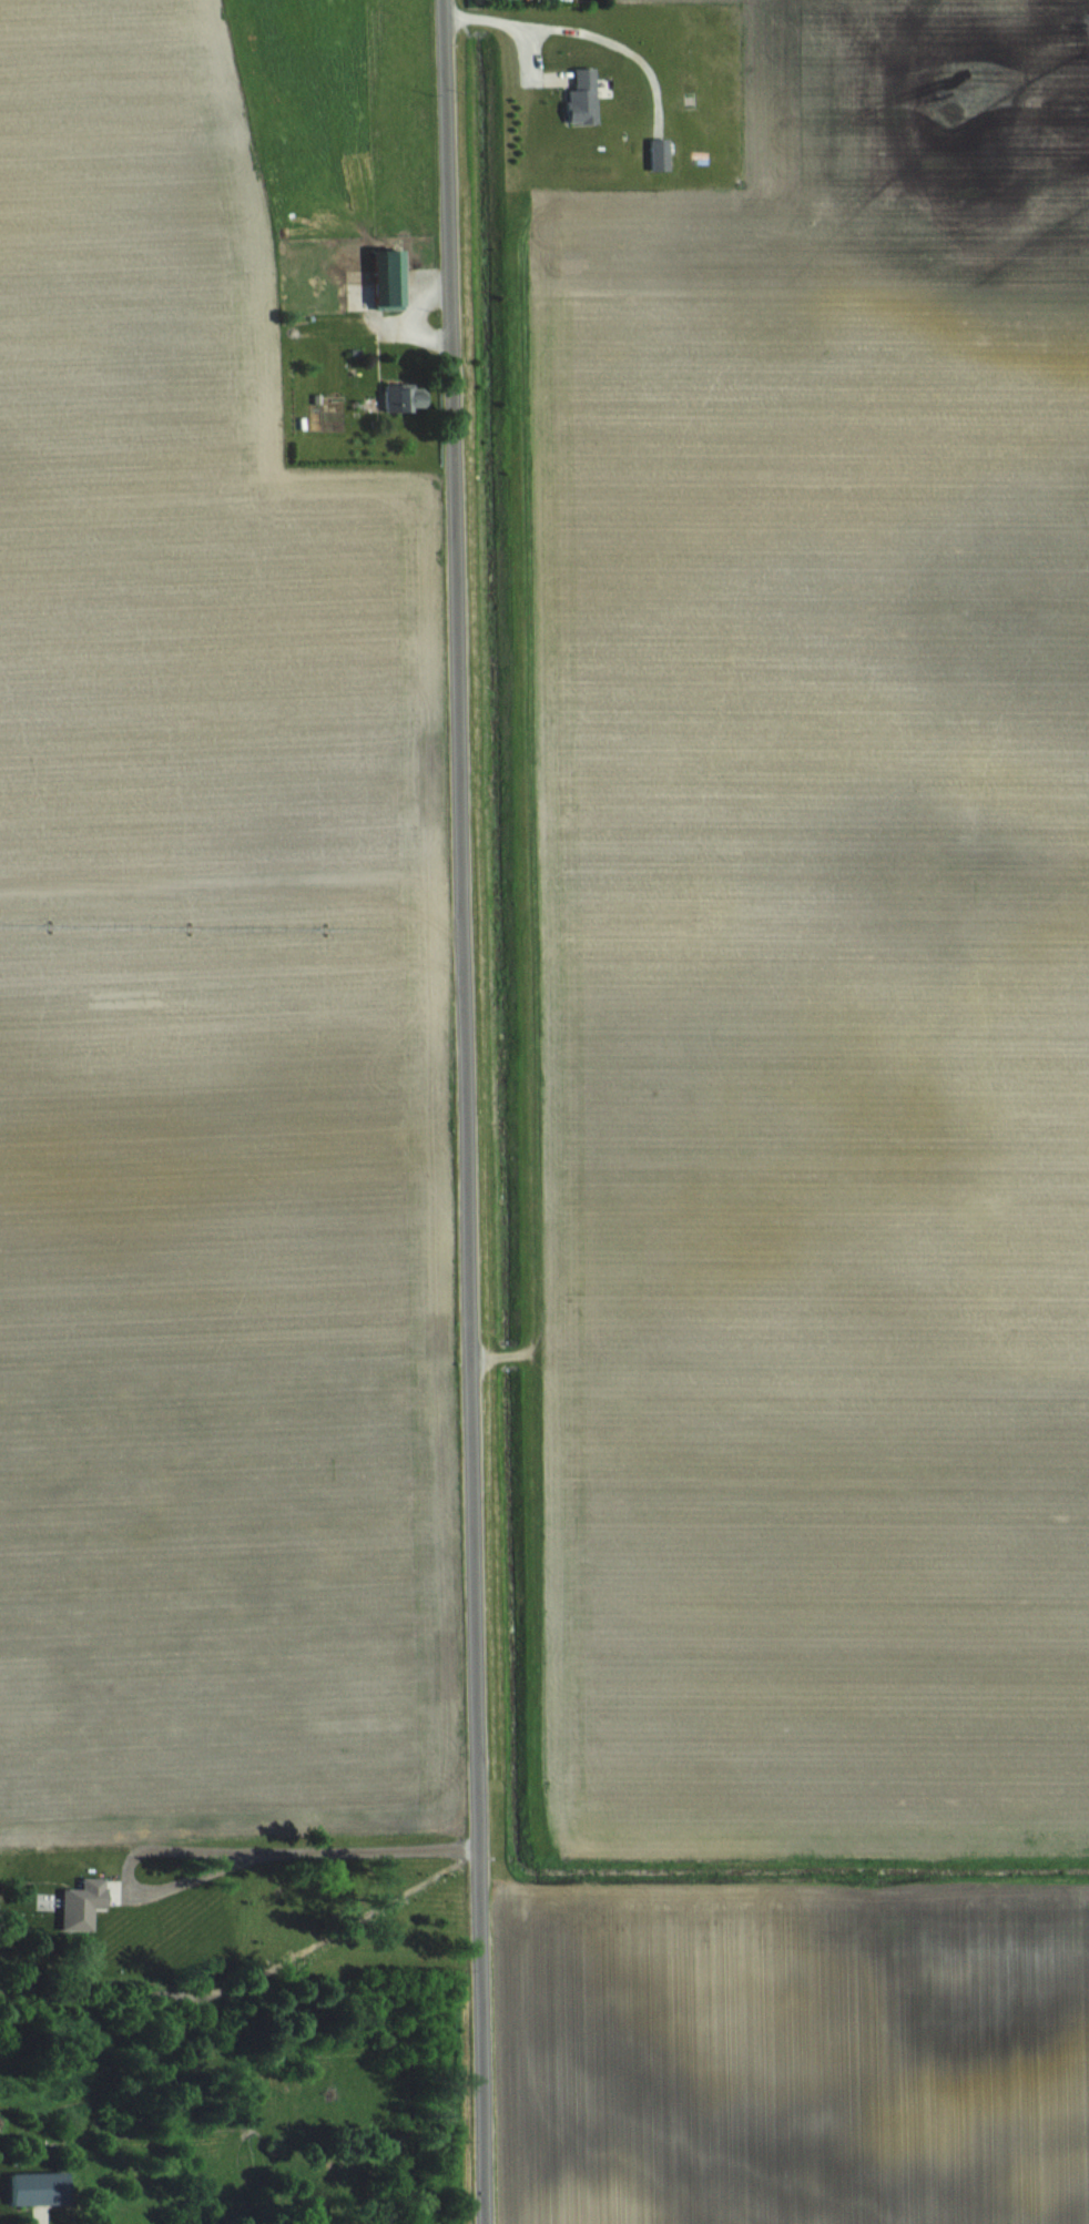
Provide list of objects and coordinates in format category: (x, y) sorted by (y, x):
road: (502, 20)
building: (580, 98)
building: (386, 278)
building: (400, 396)
road: (462, 1111)
road: (215, 1846)
building: (32, 2187)

